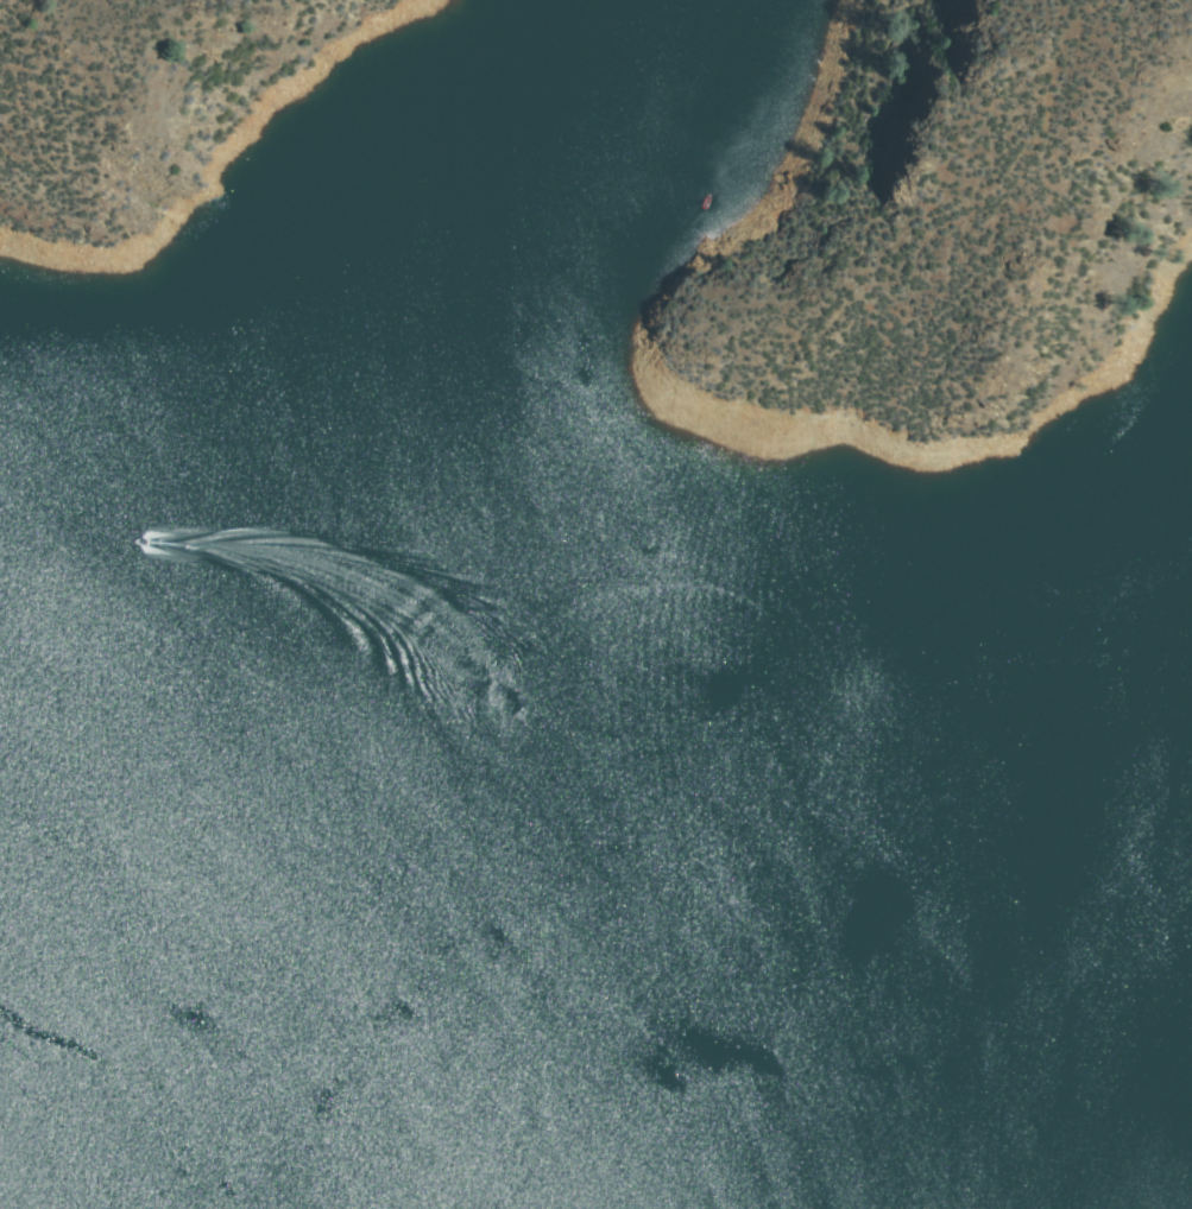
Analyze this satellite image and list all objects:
road: (1095, 40)
river: (951, 913)

